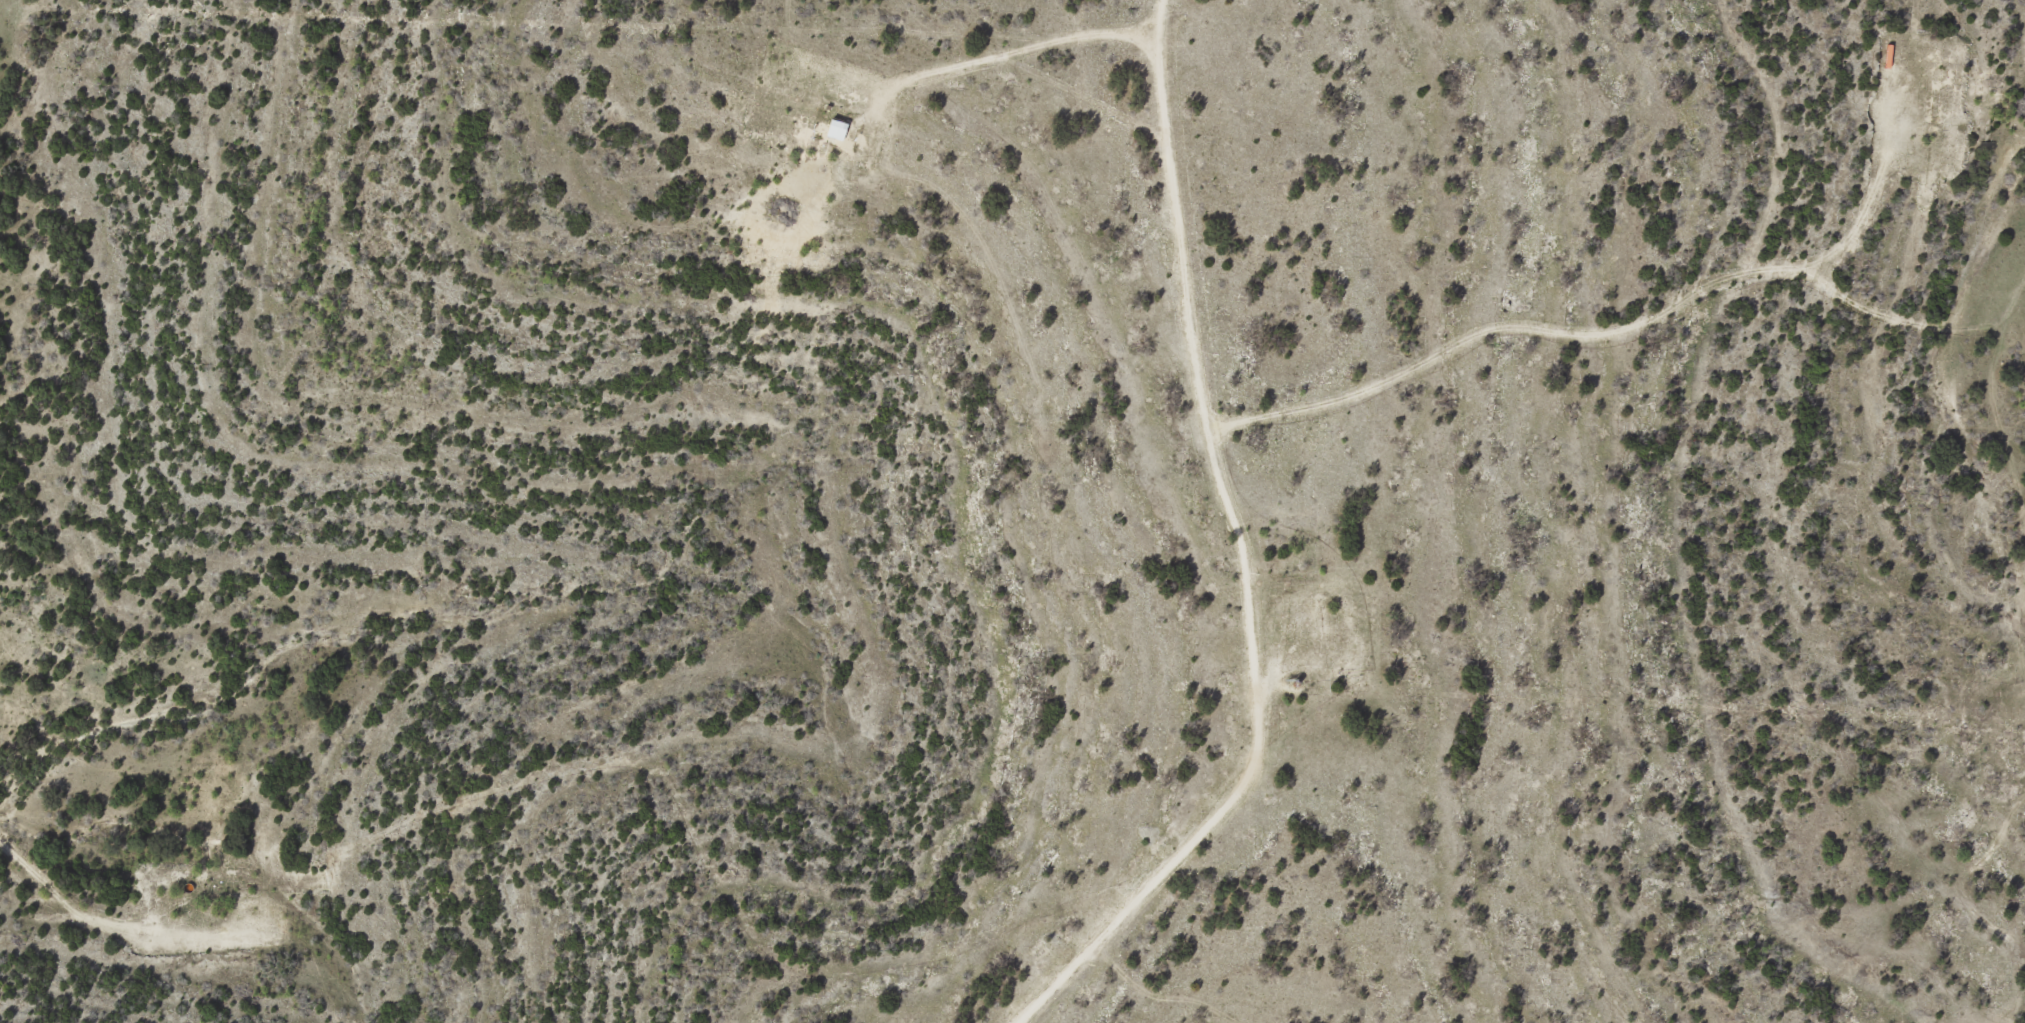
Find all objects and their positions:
road: (1102, 908)

